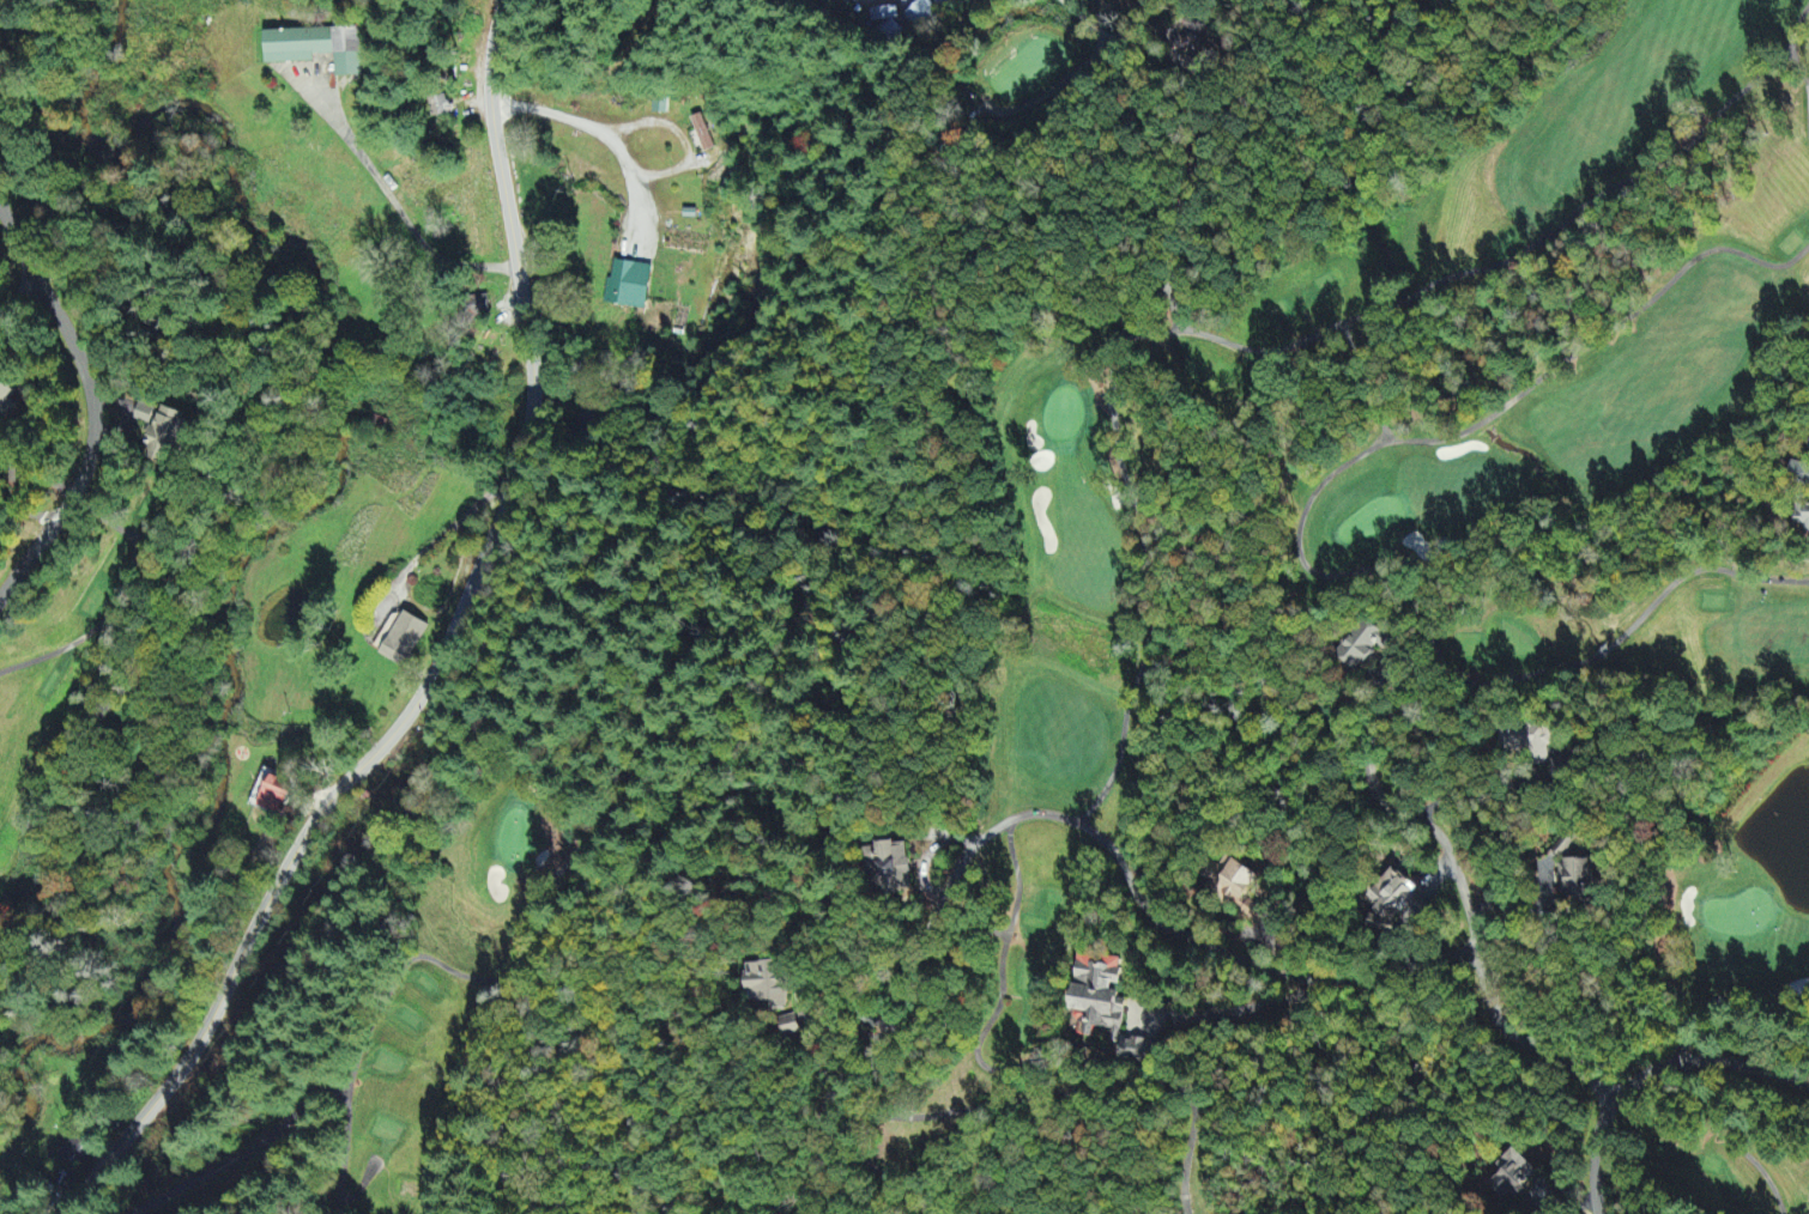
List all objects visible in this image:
building: (921, 14)
building: (315, 49)
building: (701, 134)
road: (6, 269)
building: (628, 286)
building: (5, 399)
road: (92, 402)
building: (158, 433)
park: (1596, 469)
building: (1799, 478)
building: (1803, 517)
park: (1095, 609)
building: (401, 639)
building: (1363, 647)
park: (37, 655)
road: (442, 656)
building: (1530, 741)
building: (271, 794)
road: (1109, 848)
building: (889, 867)
building: (1573, 876)
building: (1238, 887)
building: (1390, 897)
road: (1469, 908)
building: (768, 985)
park: (1731, 989)
park: (117, 996)
building: (1103, 1002)
building: (791, 1027)
road: (1650, 1072)
building: (74, 1151)
building: (1511, 1176)

